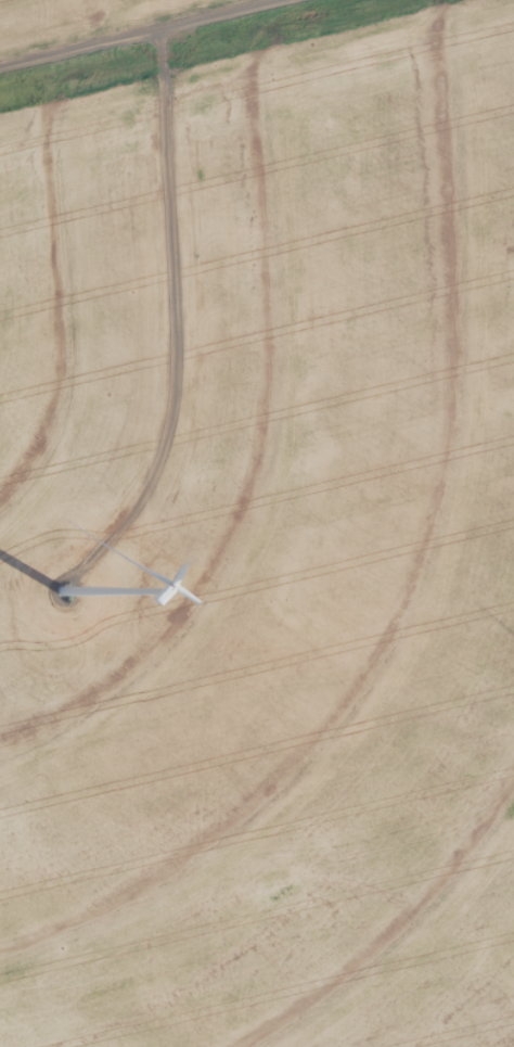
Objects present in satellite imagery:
road: (93, 23)
wind turbine: (60, 592)

